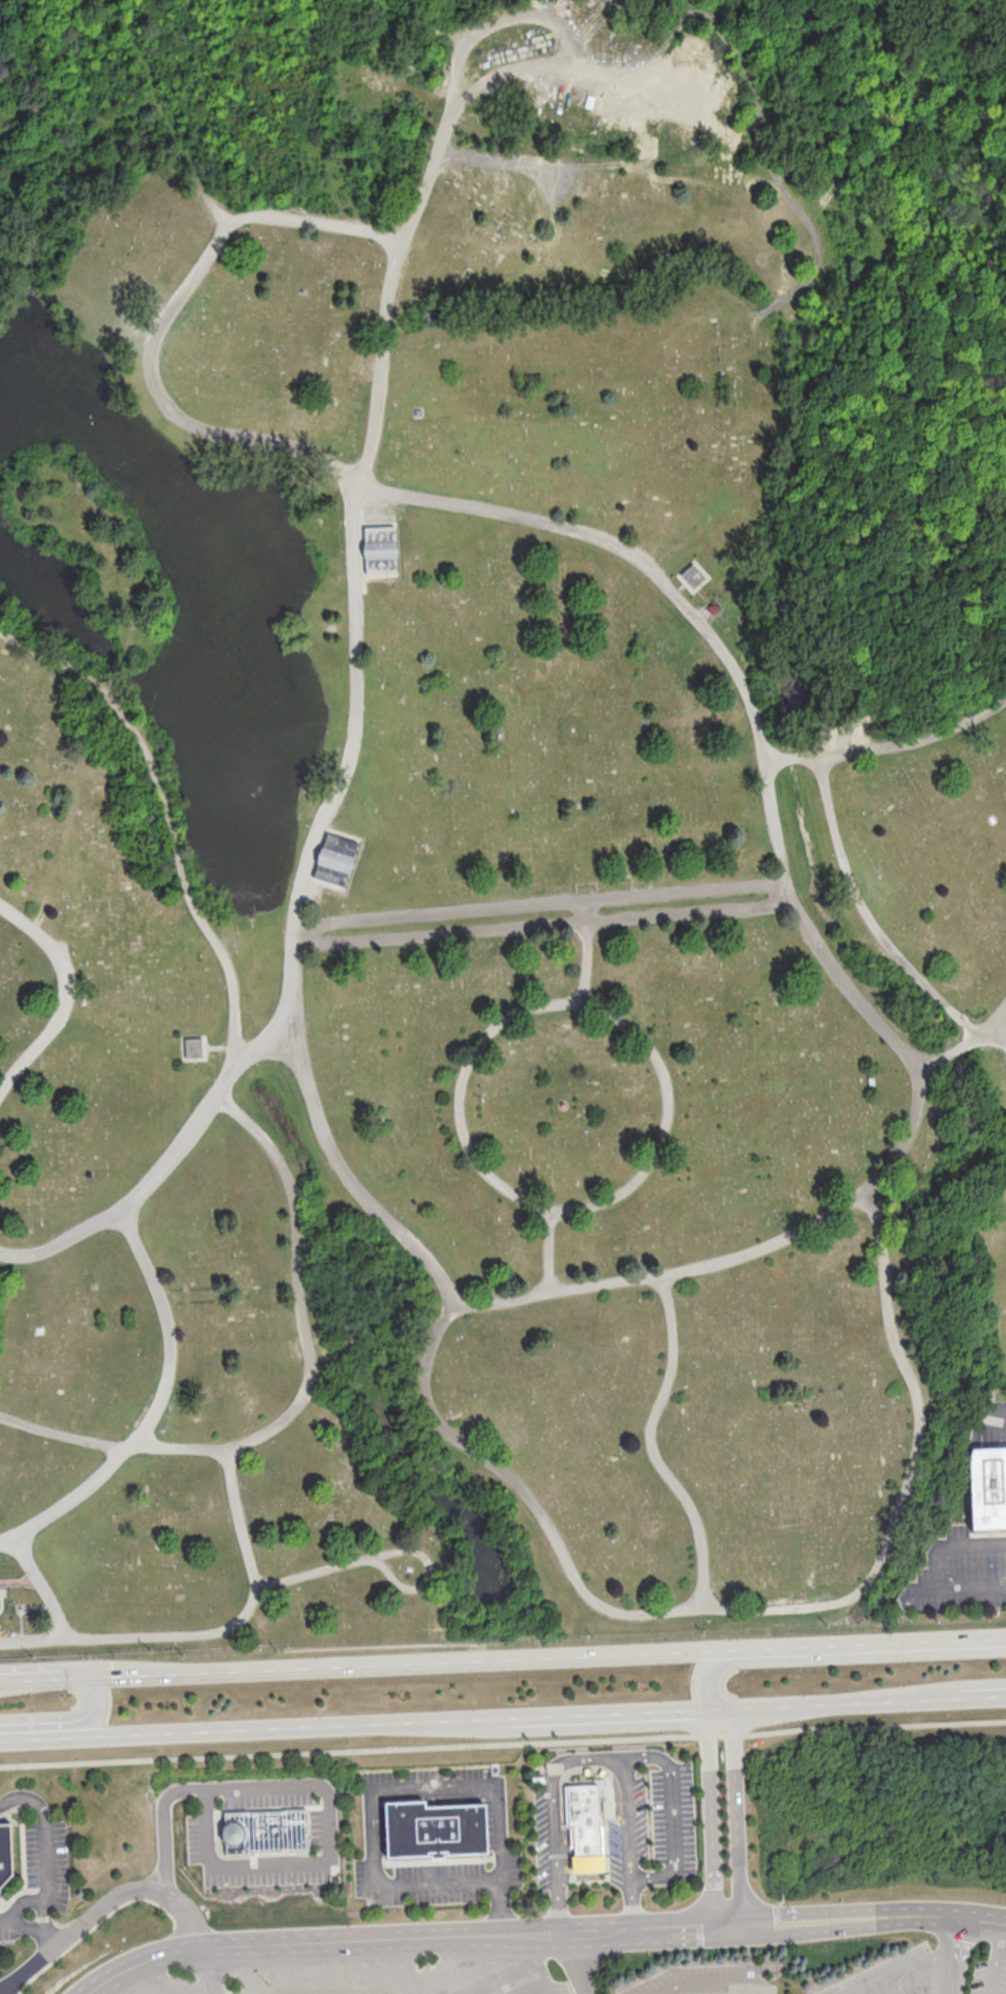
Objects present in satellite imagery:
road: (485, 26)
building: (381, 551)
building: (693, 577)
road: (109, 679)
road: (753, 703)
road: (889, 746)
road: (349, 764)
park: (495, 810)
road: (170, 822)
building: (337, 861)
road: (860, 901)
road: (539, 904)
road: (543, 927)
road: (585, 952)
road: (66, 995)
road: (978, 1032)
road: (1002, 1038)
road: (963, 1040)
building: (189, 1048)
road: (162, 1167)
road: (547, 1210)
road: (548, 1250)
road: (304, 1394)
road: (157, 1406)
road: (995, 1421)
road: (909, 1471)
building: (987, 1487)
road: (970, 1547)
road: (389, 1551)
road: (957, 1589)
road: (633, 1612)
road: (186, 1634)
road: (34, 1638)
road: (546, 1654)
road: (835, 1657)
traffic signals: (86, 1674)
road: (43, 1675)
road: (923, 1691)
road: (923, 1703)
road: (774, 1709)
road: (609, 1716)
road: (66, 1720)
road: (255, 1730)
road: (503, 1743)
road: (591, 1756)
parking lot: (426, 1776)
road: (562, 1781)
road: (402, 1786)
parking lot: (268, 1795)
road: (673, 1814)
road: (737, 1816)
parking lot: (665, 1817)
road: (713, 1818)
road: (163, 1824)
building: (584, 1825)
parking lot: (319, 1827)
building: (434, 1828)
building: (264, 1830)
road: (45, 1832)
parking lot: (195, 1838)
parking lot: (541, 1840)
parking lot: (615, 1851)
building: (6, 1852)
parking lot: (47, 1857)
road: (327, 1858)
parking lot: (266, 1875)
parking lot: (434, 1880)
road: (102, 1905)
road: (41, 1912)
road: (983, 1918)
road: (8, 1921)
parking lot: (4, 1931)
road: (47, 1932)
road: (518, 1936)
road: (953, 1954)
road: (995, 1958)
road: (576, 1964)
road: (499, 1965)
road: (535, 1965)
road: (453, 1966)
road: (371, 1967)
road: (410, 1967)
road: (326, 1968)
road: (285, 1969)
road: (205, 1970)
road: (246, 1970)
parking lot: (932, 1970)
road: (903, 1971)
parking lot: (379, 1975)
parking lot: (708, 1979)
road: (173, 1980)
road: (710, 1983)
road: (103, 1991)
road: (754, 1991)
road: (945, 1991)

